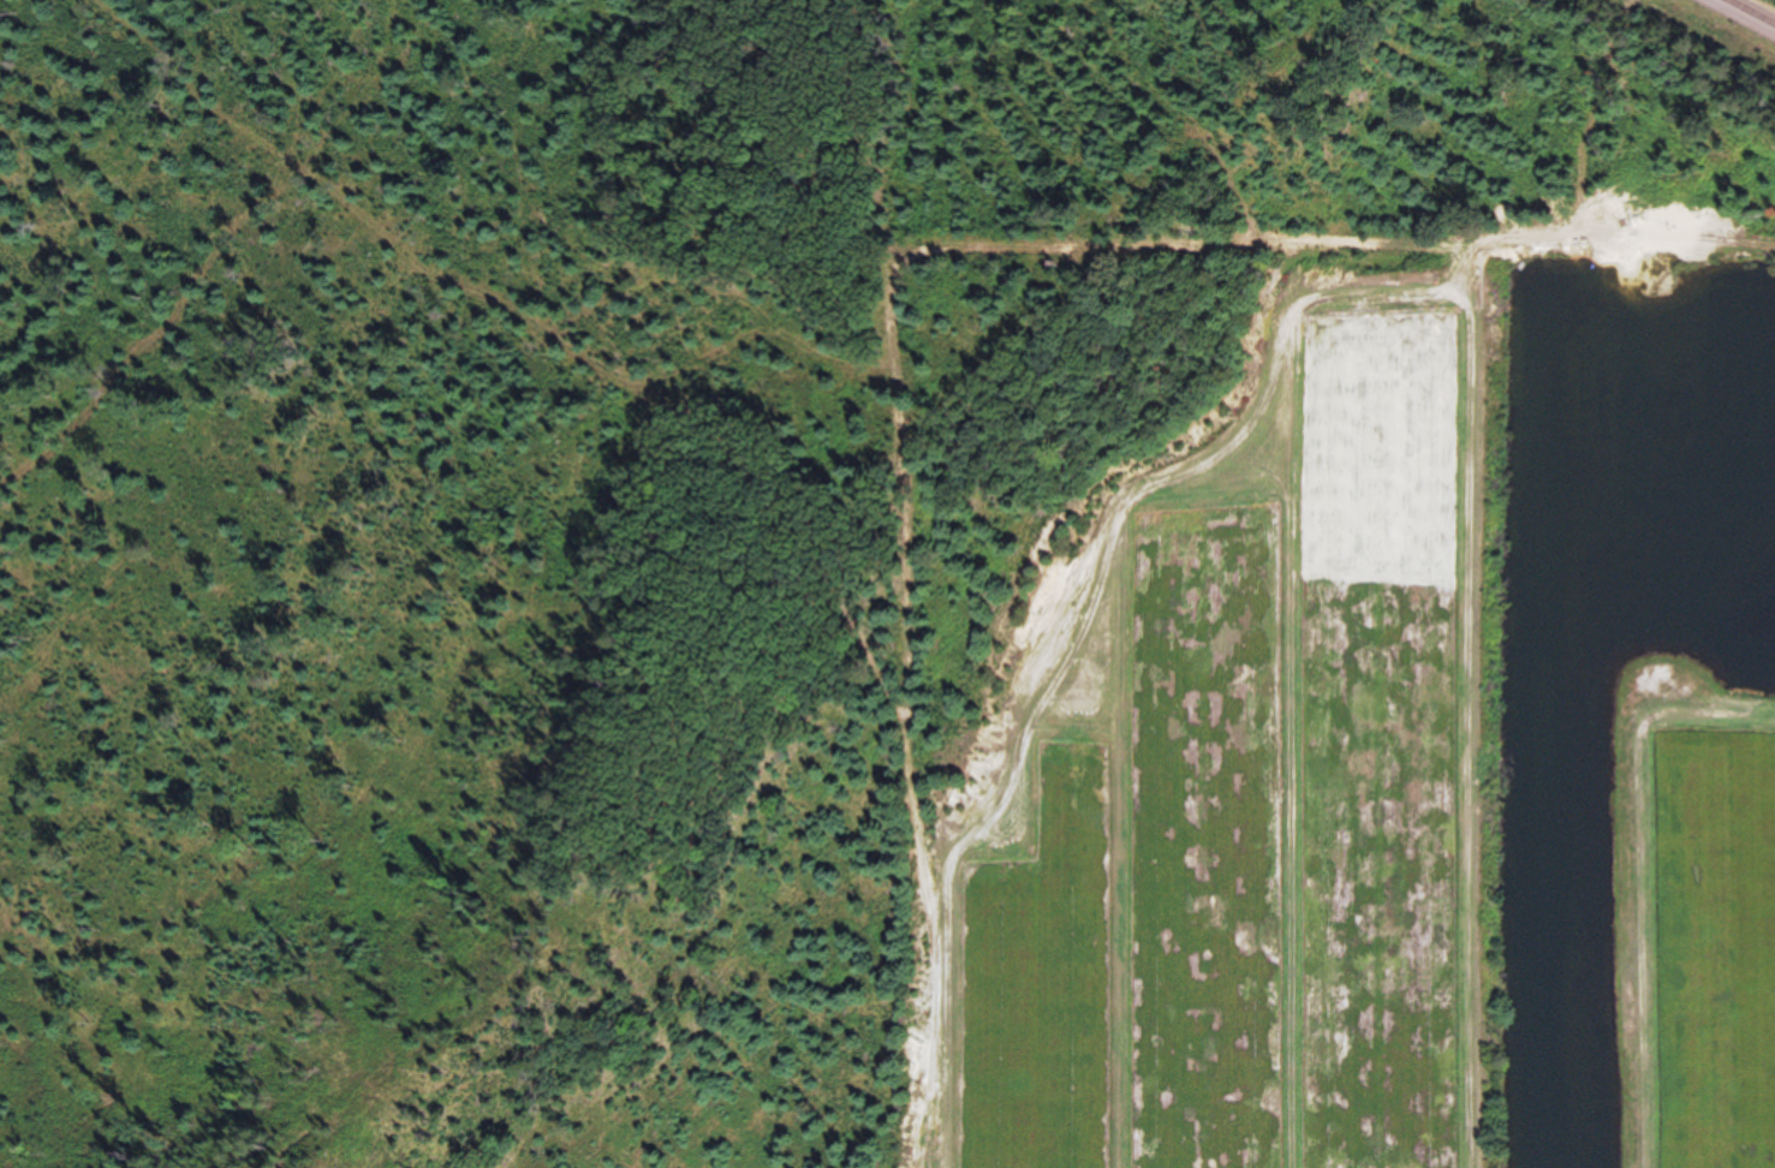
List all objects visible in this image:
railway: (1747, 13)

